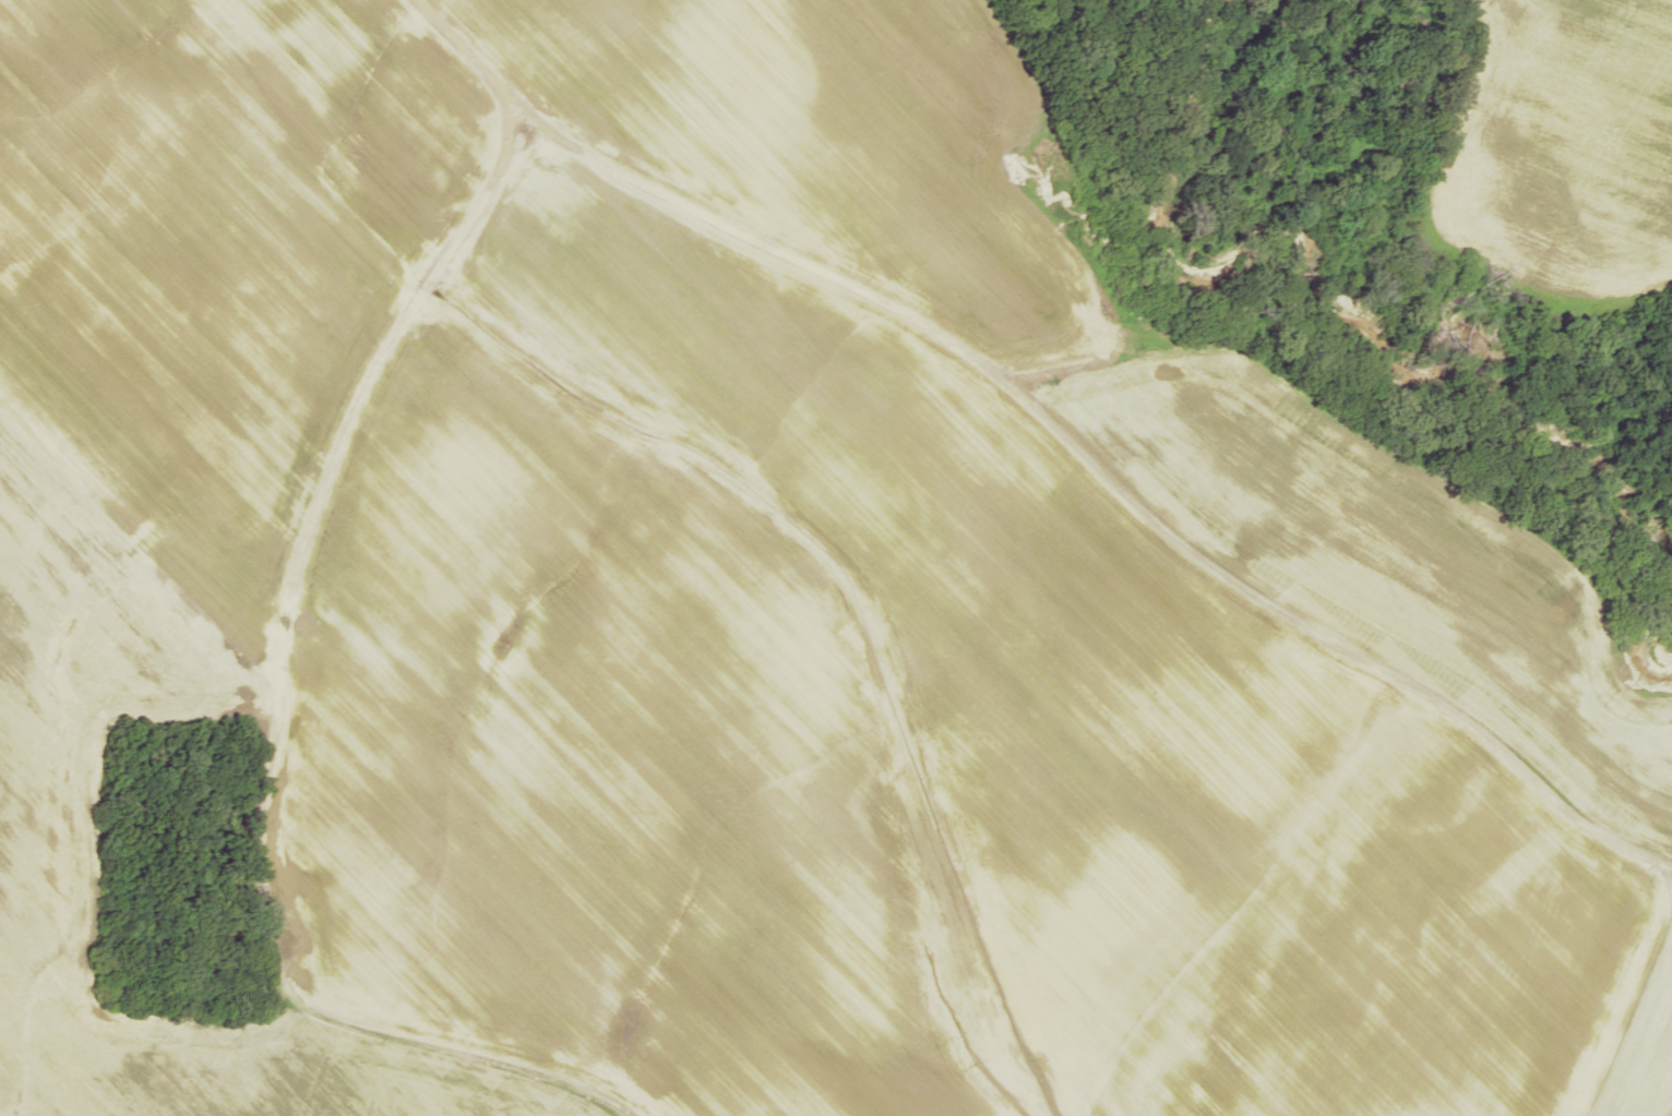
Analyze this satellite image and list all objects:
road: (1106, 471)
road: (309, 611)

